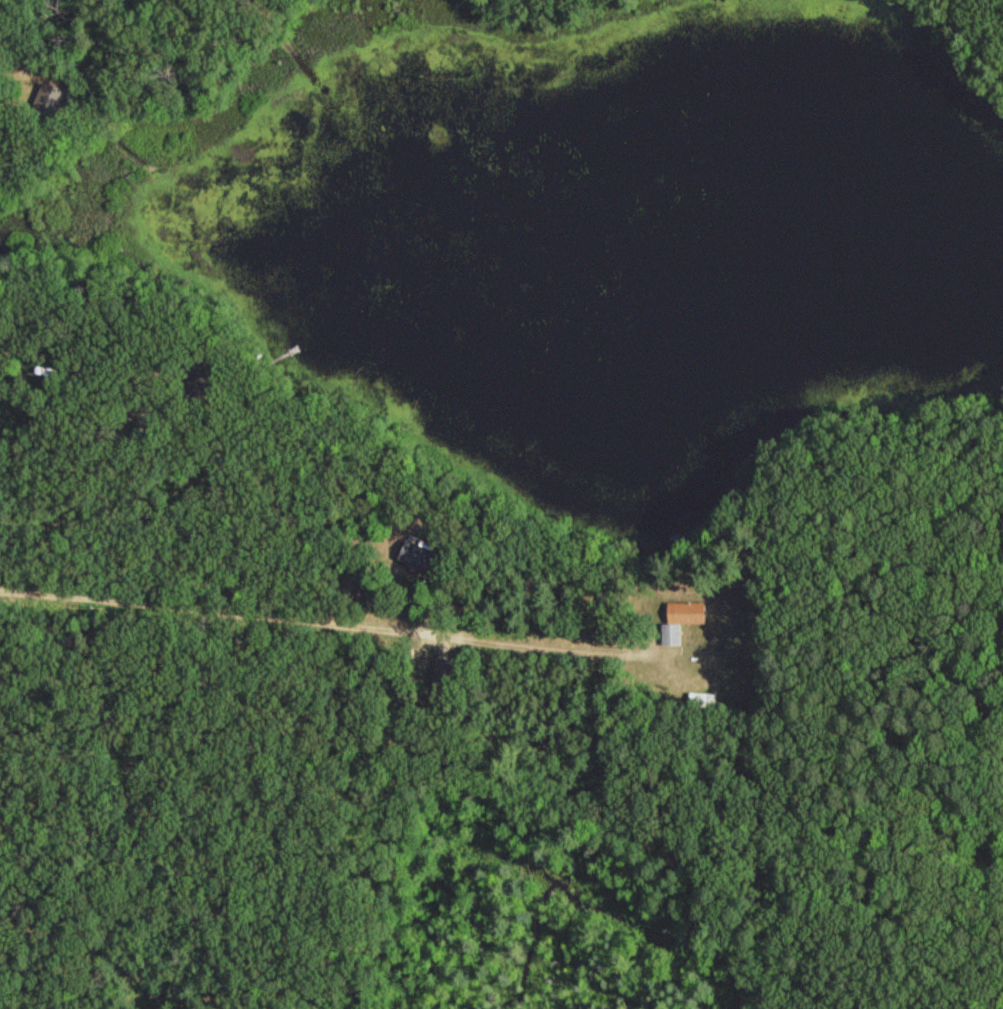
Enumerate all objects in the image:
road: (274, 17)
building: (414, 556)
building: (679, 620)
road: (313, 621)

